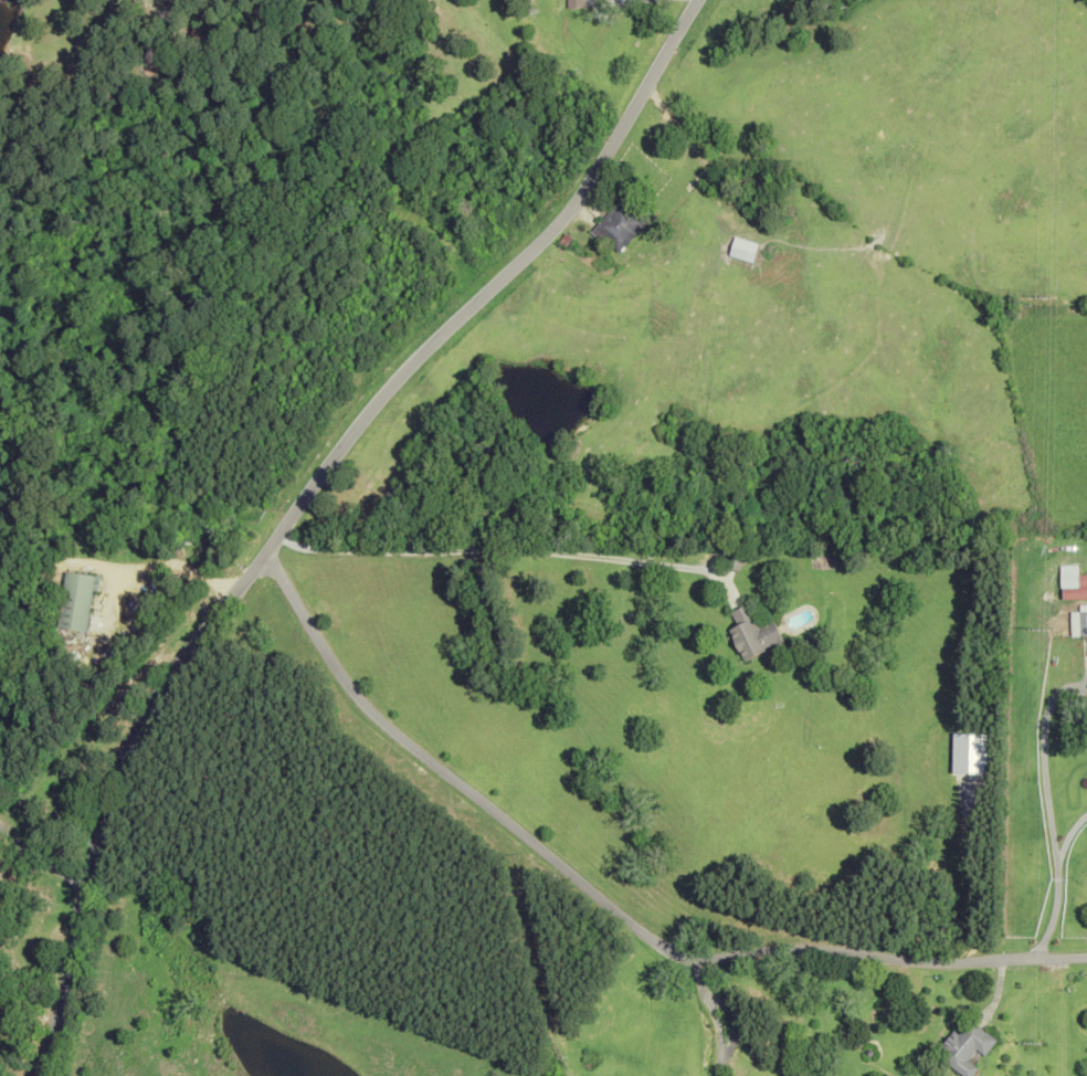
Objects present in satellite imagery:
building: (576, 3)
building: (756, 180)
building: (619, 224)
road: (298, 502)
building: (1060, 545)
road: (507, 552)
building: (737, 560)
building: (1074, 593)
building: (72, 601)
building: (1077, 623)
building: (754, 633)
road: (1046, 806)
road: (1067, 835)
road: (609, 901)
road: (714, 1013)
building: (965, 1047)

